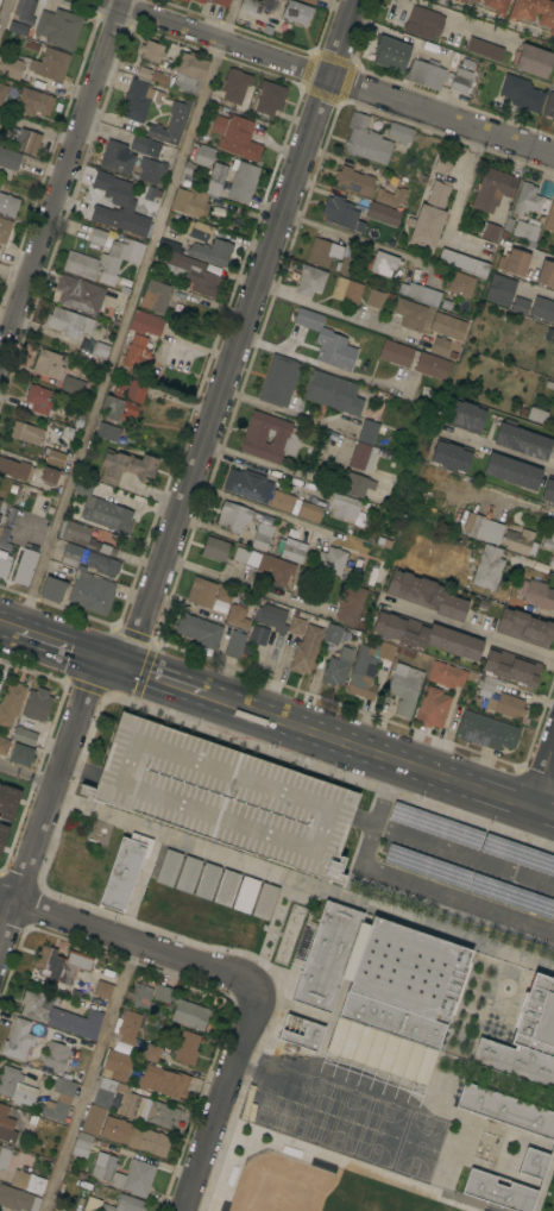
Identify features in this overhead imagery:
building: (185, 0)
building: (200, 1)
building: (309, 1)
building: (467, 1)
building: (220, 2)
building: (252, 5)
building: (495, 6)
building: (25, 11)
building: (296, 12)
building: (534, 13)
road: (5, 14)
road: (492, 20)
building: (423, 23)
building: (58, 27)
building: (19, 29)
building: (484, 49)
building: (152, 51)
building: (390, 54)
building: (531, 59)
building: (50, 64)
building: (11, 67)
building: (188, 73)
building: (426, 74)
road: (329, 76)
building: (461, 80)
building: (235, 84)
building: (2, 92)
building: (521, 93)
building: (141, 94)
building: (270, 96)
building: (33, 102)
building: (549, 106)
building: (171, 124)
building: (399, 133)
building: (235, 137)
building: (27, 140)
building: (365, 140)
building: (145, 145)
building: (203, 156)
building: (117, 157)
building: (10, 158)
building: (443, 163)
building: (152, 170)
building: (241, 181)
building: (354, 181)
road: (61, 186)
building: (492, 189)
building: (200, 192)
building: (392, 197)
building: (529, 200)
road: (458, 203)
building: (8, 205)
building: (121, 205)
building: (363, 205)
building: (341, 213)
building: (383, 213)
building: (429, 215)
building: (549, 218)
building: (4, 228)
building: (199, 230)
building: (490, 231)
building: (527, 231)
building: (97, 237)
road: (360, 241)
building: (212, 251)
building: (323, 252)
road: (544, 256)
building: (105, 261)
building: (514, 262)
building: (382, 263)
building: (464, 263)
building: (345, 265)
building: (190, 269)
building: (546, 274)
building: (310, 281)
building: (460, 284)
building: (122, 286)
building: (347, 290)
road: (539, 290)
building: (80, 294)
building: (420, 294)
building: (505, 294)
building: (156, 295)
building: (374, 299)
building: (542, 309)
road: (127, 314)
building: (410, 314)
road: (342, 318)
building: (68, 321)
building: (146, 324)
building: (447, 326)
building: (539, 326)
road: (241, 332)
building: (553, 340)
building: (328, 341)
building: (439, 346)
building: (101, 349)
building: (395, 352)
building: (137, 354)
building: (48, 363)
road: (314, 365)
building: (432, 365)
building: (278, 381)
building: (70, 384)
building: (136, 390)
building: (333, 393)
building: (39, 399)
building: (119, 403)
building: (537, 414)
road: (284, 415)
building: (464, 415)
building: (107, 432)
building: (367, 432)
building: (26, 433)
building: (285, 439)
building: (521, 440)
road: (498, 453)
building: (451, 454)
building: (53, 457)
building: (363, 457)
building: (553, 459)
road: (259, 464)
building: (127, 466)
building: (17, 469)
building: (511, 471)
building: (49, 475)
building: (247, 484)
building: (355, 484)
road: (301, 485)
building: (548, 490)
building: (0, 502)
road: (517, 502)
building: (295, 506)
building: (345, 506)
building: (102, 509)
road: (265, 512)
building: (0, 515)
building: (234, 515)
building: (474, 526)
building: (262, 535)
building: (82, 537)
building: (380, 540)
building: (518, 540)
building: (549, 541)
building: (388, 542)
building: (215, 548)
building: (292, 550)
building: (71, 554)
building: (240, 554)
building: (550, 560)
building: (334, 561)
building: (102, 564)
building: (4, 565)
road: (531, 565)
building: (271, 566)
building: (25, 567)
building: (489, 567)
building: (52, 589)
road: (247, 589)
building: (201, 591)
building: (92, 594)
building: (227, 594)
building: (537, 594)
building: (424, 595)
building: (350, 603)
building: (237, 616)
building: (271, 617)
road: (8, 625)
building: (296, 626)
building: (524, 628)
building: (199, 630)
road: (468, 632)
building: (332, 633)
building: (258, 635)
building: (424, 635)
road: (73, 646)
building: (235, 646)
building: (306, 650)
building: (338, 666)
building: (367, 667)
building: (511, 667)
building: (446, 674)
road: (168, 679)
building: (487, 684)
building: (404, 688)
building: (11, 703)
building: (37, 704)
building: (505, 705)
building: (433, 707)
building: (486, 730)
building: (24, 736)
building: (4, 745)
road: (379, 752)
building: (20, 754)
road: (542, 771)
road: (29, 776)
building: (225, 796)
building: (4, 799)
road: (50, 803)
building: (1, 835)
parking lot: (473, 841)
road: (187, 843)
road: (466, 854)
building: (169, 867)
building: (124, 871)
building: (188, 874)
road: (408, 877)
parking lot: (466, 878)
building: (207, 880)
building: (226, 887)
building: (245, 895)
building: (265, 901)
road: (127, 941)
building: (58, 961)
building: (103, 990)
building: (382, 990)
building: (151, 999)
building: (189, 1014)
building: (59, 1015)
building: (127, 1030)
building: (304, 1036)
building: (525, 1039)
building: (18, 1040)
building: (185, 1048)
building: (152, 1053)
building: (55, 1056)
building: (117, 1066)
road: (95, 1078)
building: (164, 1081)
building: (15, 1086)
road: (225, 1099)
building: (61, 1100)
building: (125, 1108)
building: (505, 1110)
building: (6, 1125)
building: (134, 1136)
building: (82, 1144)
building: (5, 1155)
building: (533, 1163)
building: (102, 1166)
building: (134, 1178)
building: (498, 1191)
building: (21, 1192)
building: (124, 1204)

